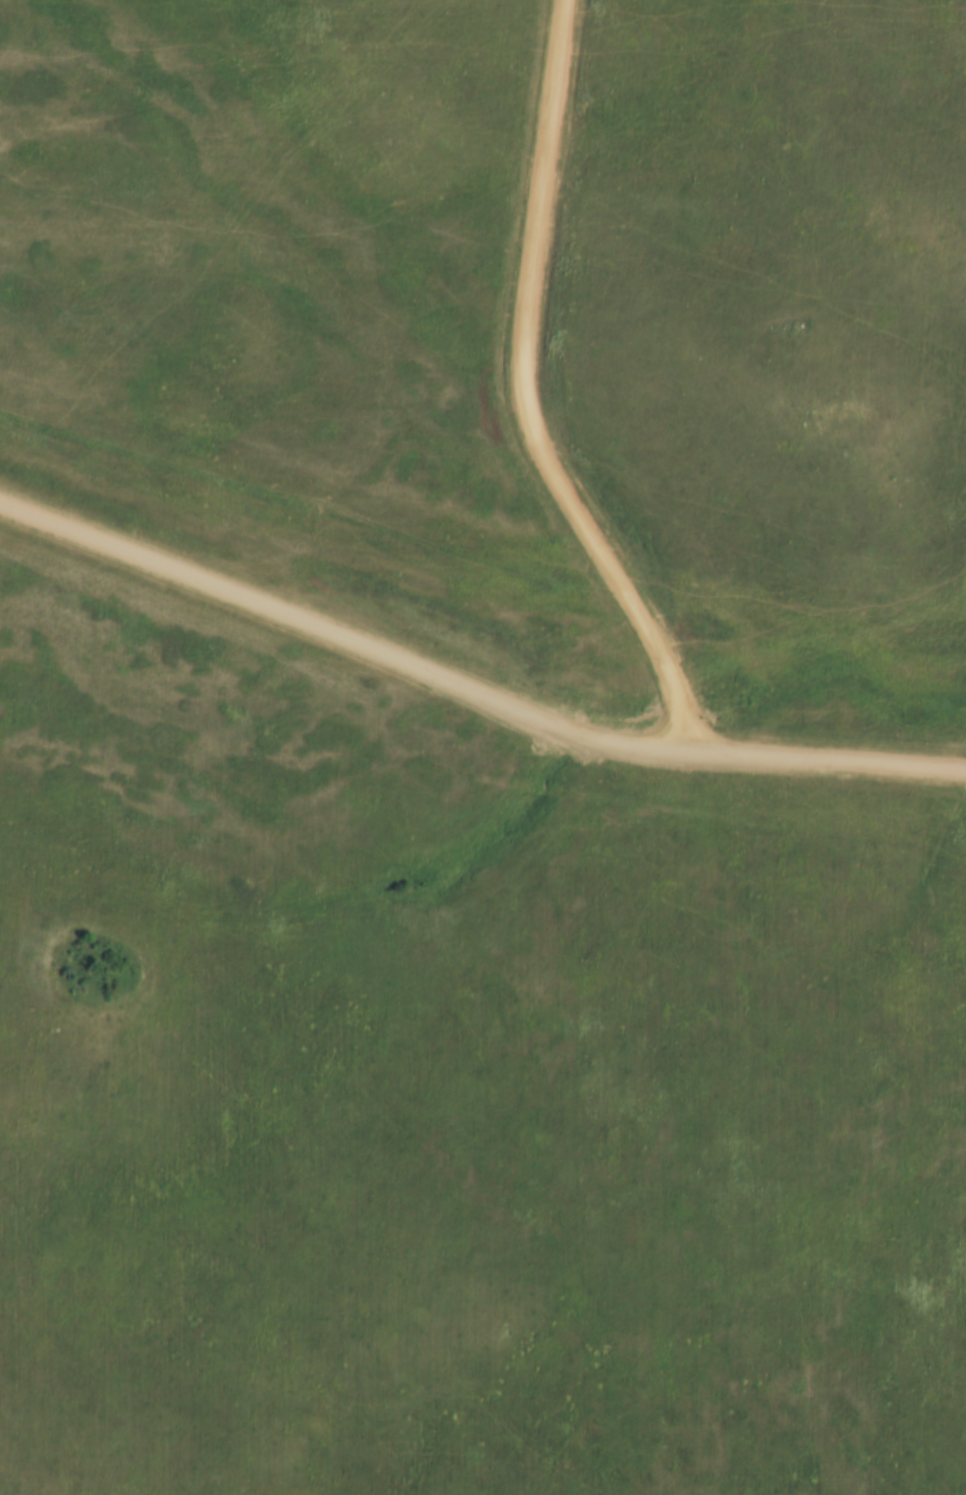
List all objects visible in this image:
road: (518, 397)
road: (471, 692)

